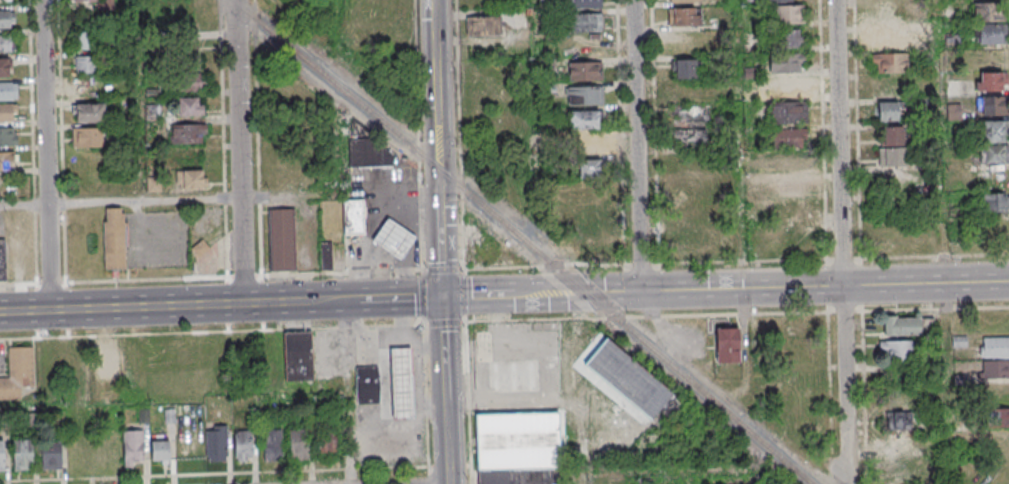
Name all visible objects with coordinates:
building: (685, 1)
building: (770, 1)
building: (99, 3)
building: (583, 3)
building: (991, 12)
building: (888, 13)
building: (786, 15)
building: (684, 16)
building: (6, 19)
building: (584, 22)
building: (484, 25)
building: (988, 35)
building: (791, 38)
building: (886, 39)
building: (85, 40)
building: (7, 43)
building: (990, 58)
building: (787, 63)
building: (889, 63)
building: (85, 64)
building: (5, 67)
building: (684, 68)
building: (585, 71)
building: (486, 75)
building: (186, 82)
building: (989, 83)
road: (436, 84)
building: (89, 88)
building: (788, 88)
building: (8, 91)
building: (584, 95)
building: (190, 106)
building: (990, 106)
building: (888, 111)
building: (90, 112)
building: (7, 113)
building: (695, 113)
building: (788, 113)
building: (583, 119)
building: (187, 133)
building: (8, 136)
building: (88, 137)
building: (691, 138)
building: (789, 138)
building: (993, 142)
building: (585, 144)
road: (636, 145)
building: (892, 146)
road: (238, 152)
building: (366, 153)
road: (46, 155)
building: (84, 161)
building: (7, 162)
building: (791, 164)
building: (589, 168)
building: (189, 179)
building: (788, 187)
building: (914, 188)
building: (689, 201)
road: (120, 203)
building: (993, 203)
building: (788, 208)
building: (354, 217)
building: (593, 227)
building: (902, 230)
road: (440, 232)
road: (839, 233)
building: (114, 238)
building: (394, 238)
building: (282, 240)
railway: (524, 240)
building: (689, 240)
building: (200, 248)
building: (326, 257)
building: (3, 261)
road: (330, 275)
road: (761, 287)
road: (478, 296)
traffic signals: (442, 297)
road: (401, 298)
road: (180, 305)
building: (901, 326)
building: (796, 330)
road: (212, 332)
road: (384, 341)
road: (442, 344)
building: (727, 344)
building: (994, 348)
building: (896, 350)
building: (797, 353)
building: (298, 356)
building: (995, 370)
building: (18, 373)
building: (513, 376)
road: (418, 378)
building: (632, 381)
building: (401, 382)
building: (367, 385)
road: (577, 388)
road: (347, 392)
road: (426, 396)
building: (997, 417)
building: (898, 421)
road: (446, 437)
building: (518, 441)
building: (326, 442)
building: (216, 443)
building: (299, 444)
building: (134, 445)
building: (242, 445)
building: (272, 445)
building: (160, 451)
building: (1, 453)
building: (23, 454)
building: (50, 455)
road: (222, 474)
building: (518, 476)

